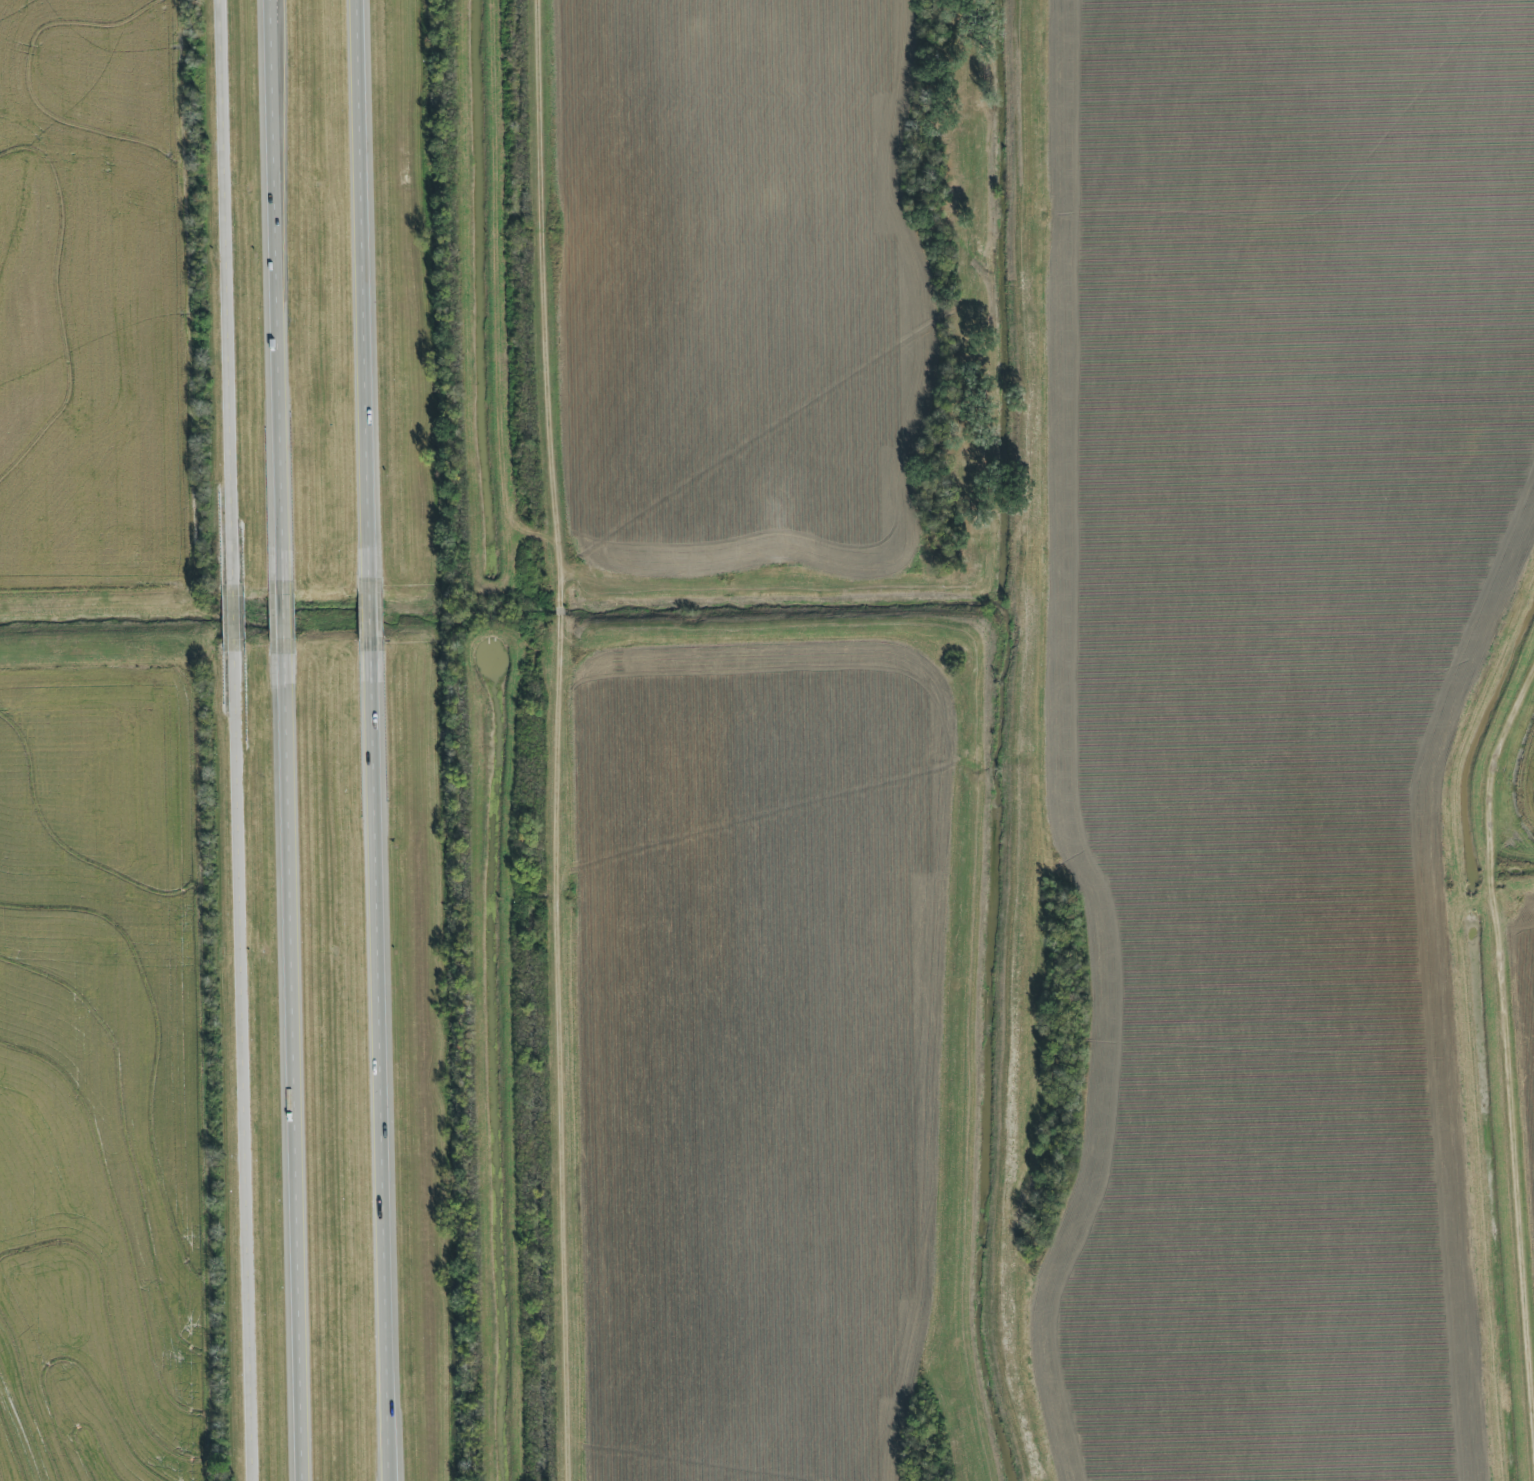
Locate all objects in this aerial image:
road: (547, 285)
road: (368, 287)
road: (275, 290)
road: (230, 291)
road: (559, 595)
road: (376, 612)
road: (237, 616)
road: (285, 618)
river: (978, 742)
road: (1509, 1027)
road: (563, 1050)
road: (246, 1065)
road: (386, 1065)
road: (297, 1068)

